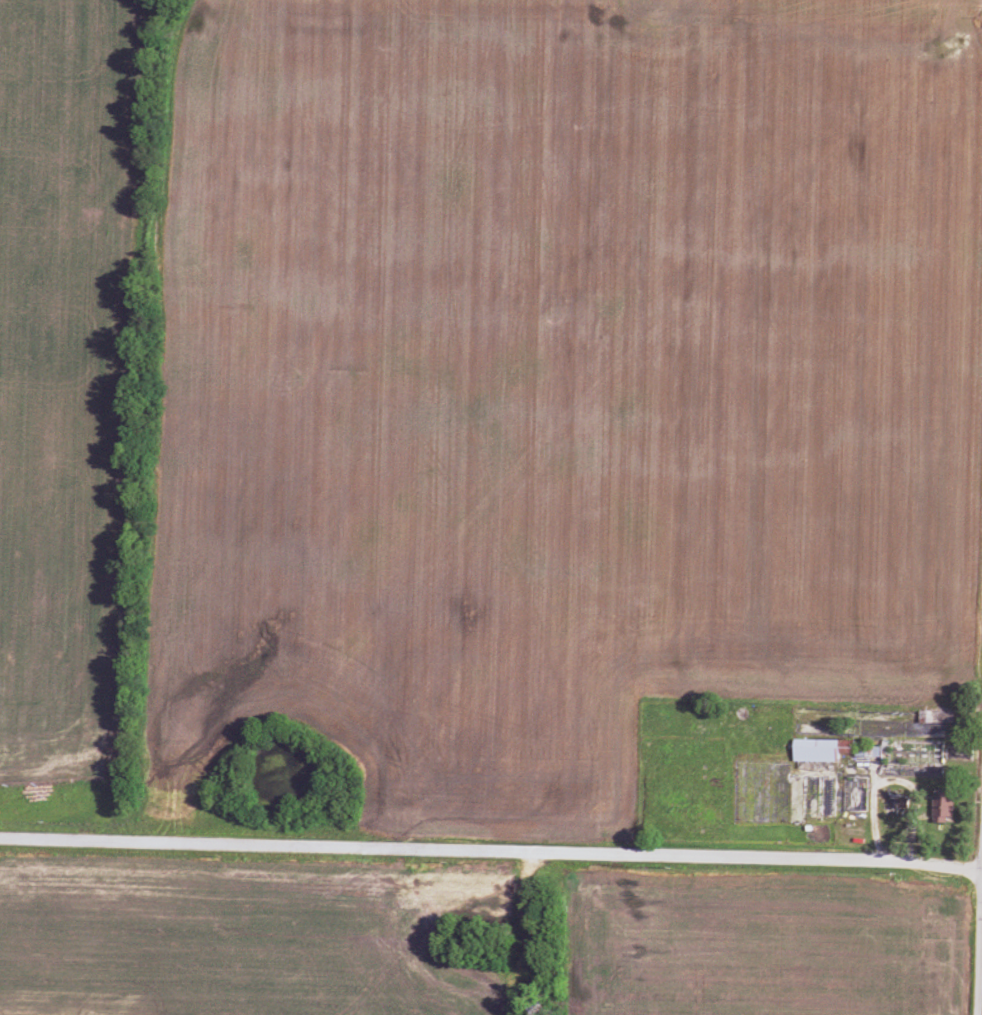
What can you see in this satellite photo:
building: (814, 747)
building: (943, 802)
road: (866, 812)
road: (490, 864)

